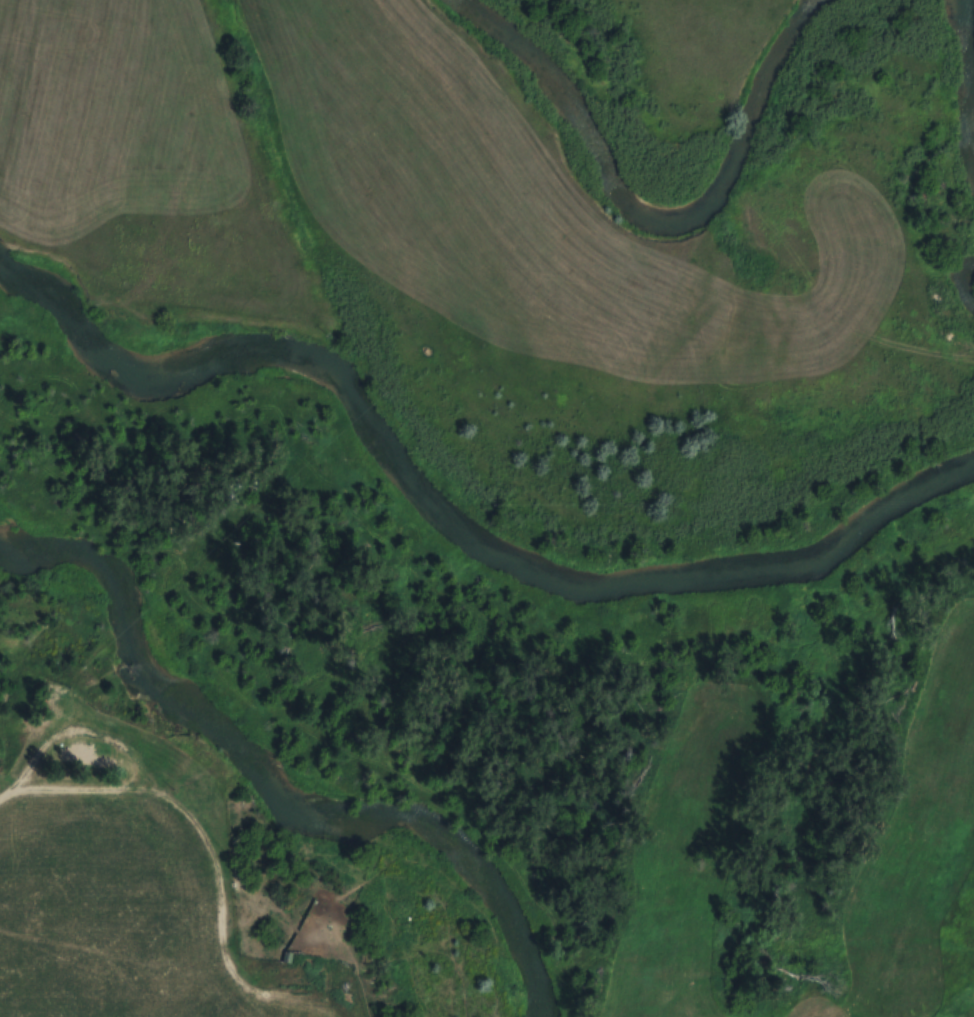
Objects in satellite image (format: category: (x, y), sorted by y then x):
river: (965, 39)
river: (650, 218)
river: (451, 514)
building: (88, 759)
river: (268, 773)
building: (294, 959)

